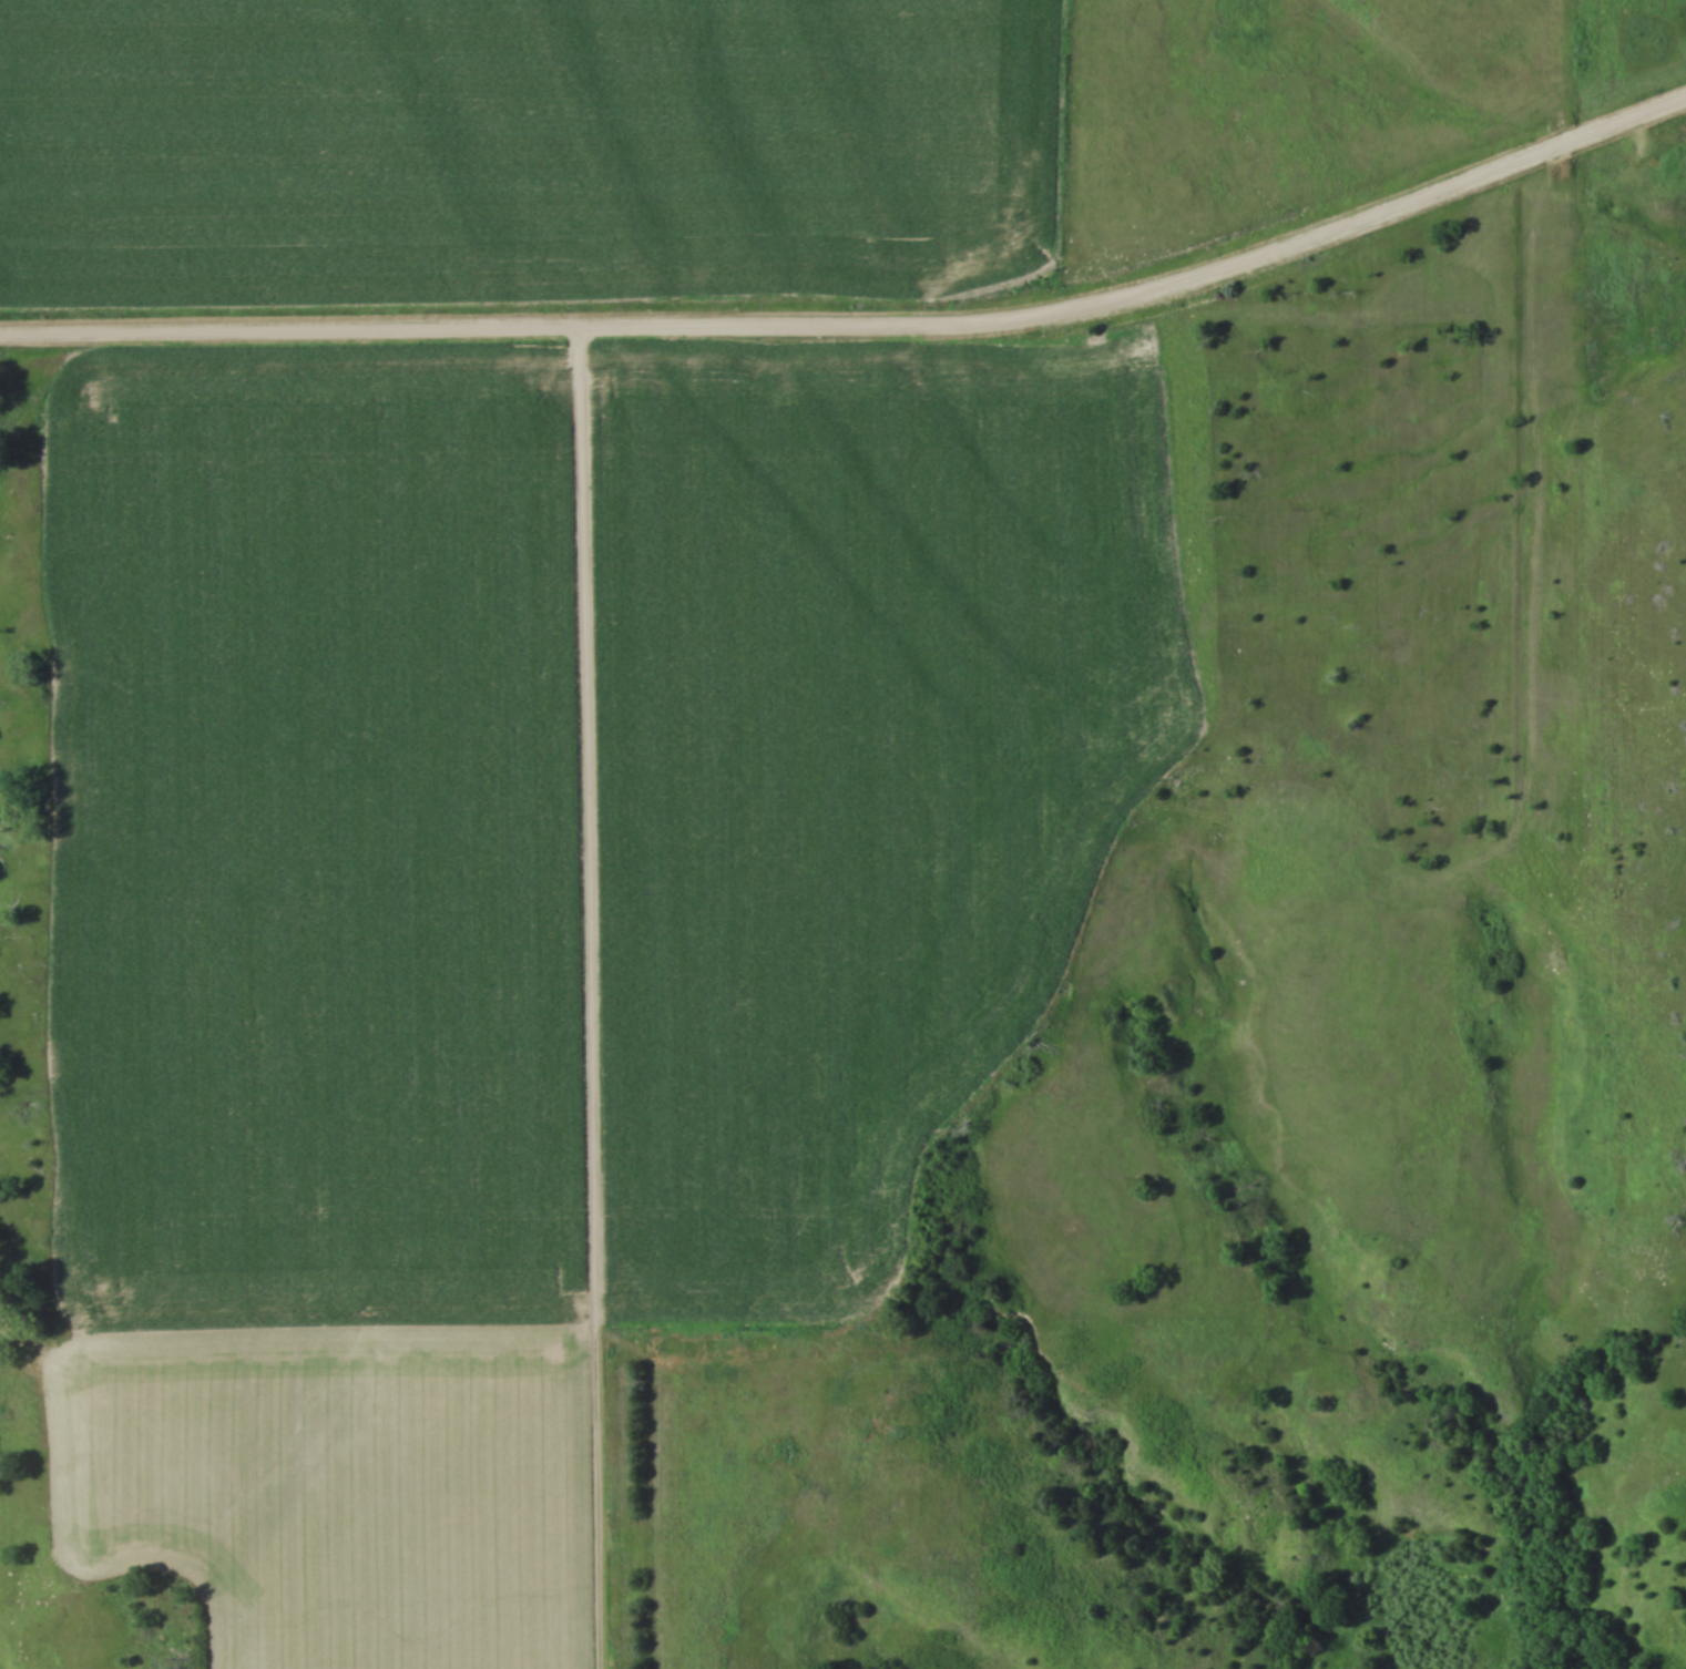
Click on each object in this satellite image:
crop: (521, 152)
road: (861, 328)
park: (1633, 665)
crop: (852, 768)
crop: (314, 840)
road: (593, 999)

